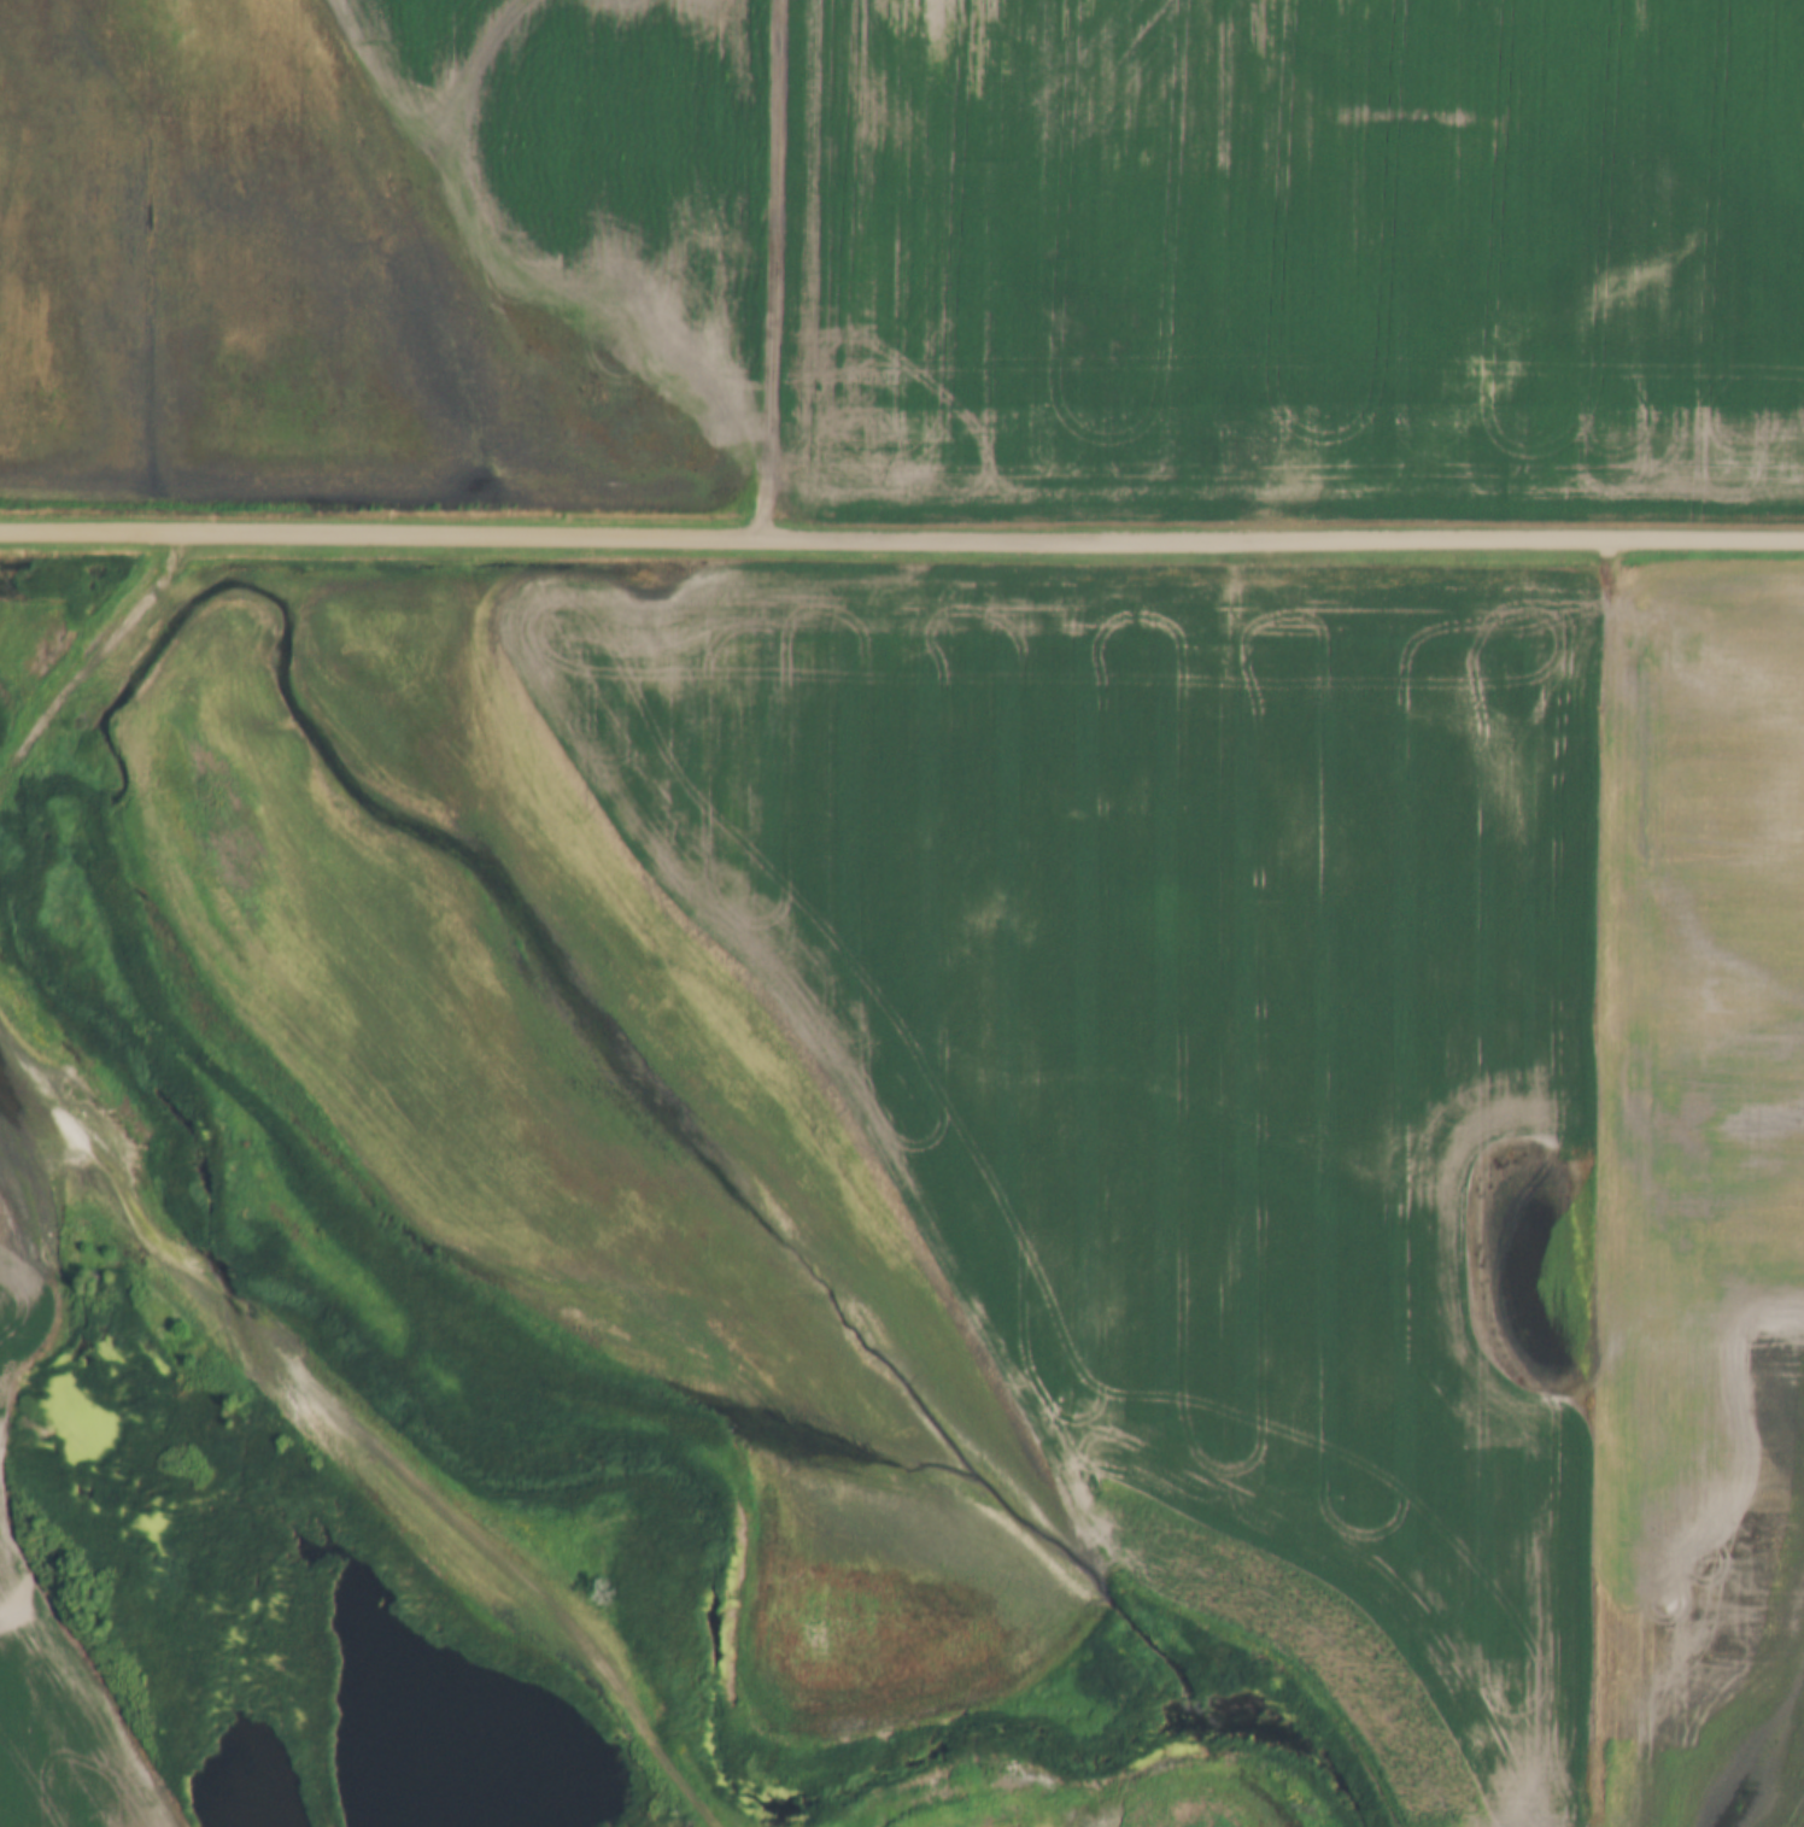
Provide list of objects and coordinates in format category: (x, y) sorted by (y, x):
road: (902, 540)
road: (96, 671)
road: (361, 1425)

